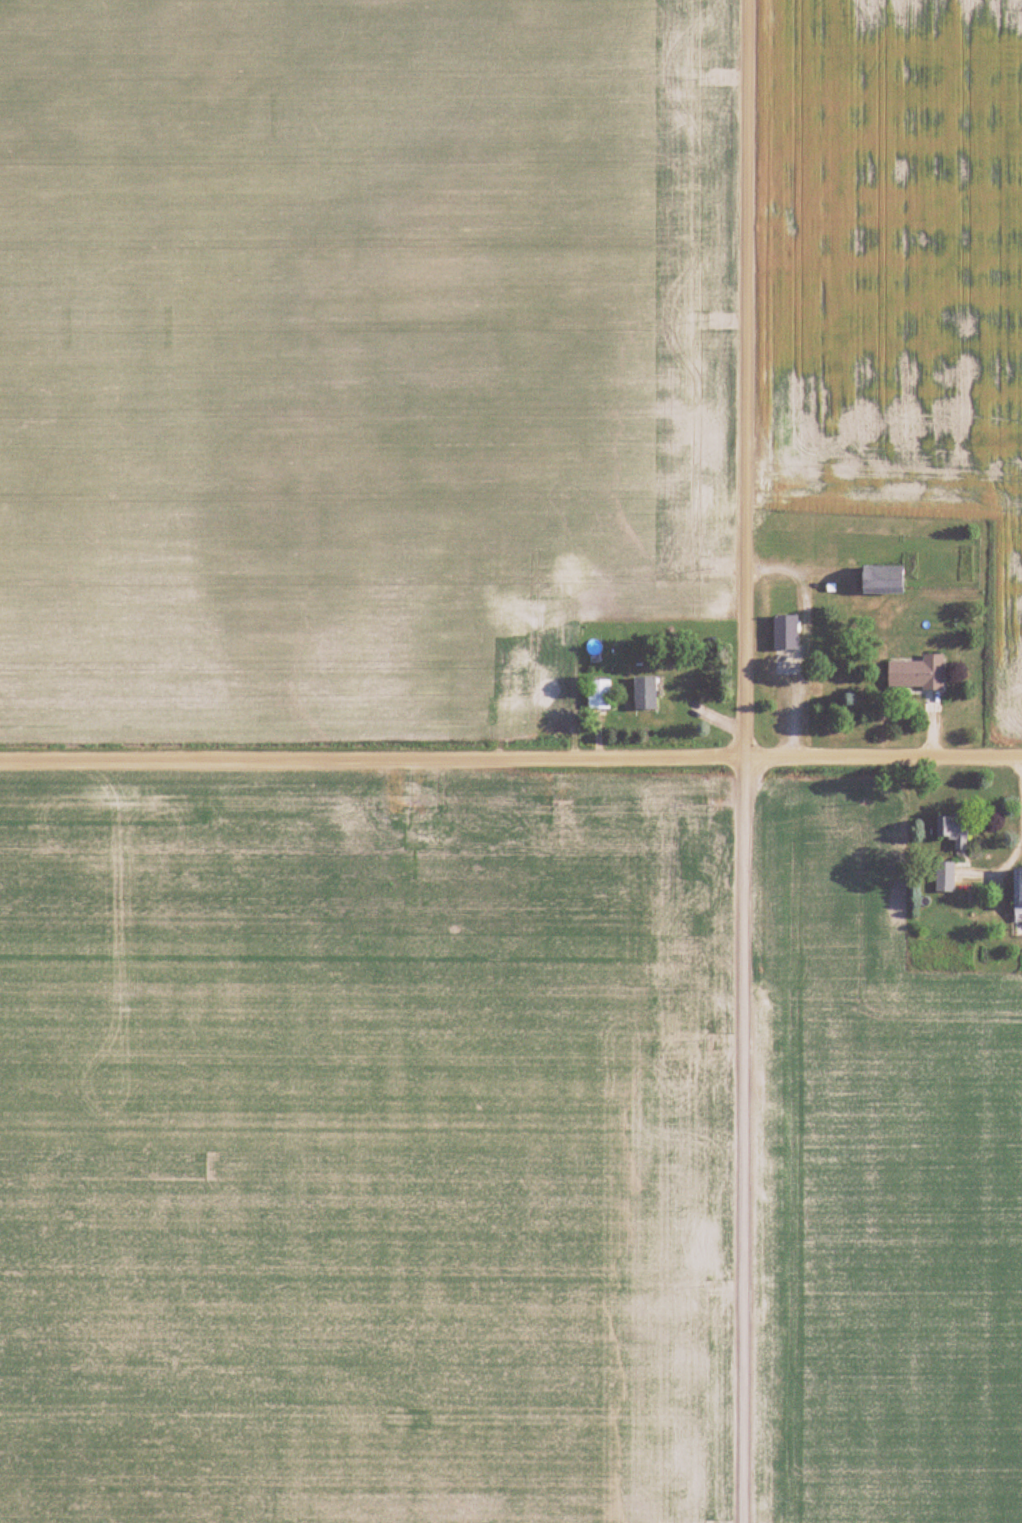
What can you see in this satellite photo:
building: (881, 579)
building: (492, 606)
building: (784, 632)
building: (569, 637)
building: (916, 674)
building: (541, 690)
building: (598, 694)
building: (644, 694)
road: (511, 760)
road: (740, 761)
road: (1009, 821)
building: (952, 830)
building: (944, 877)
building: (1017, 895)

